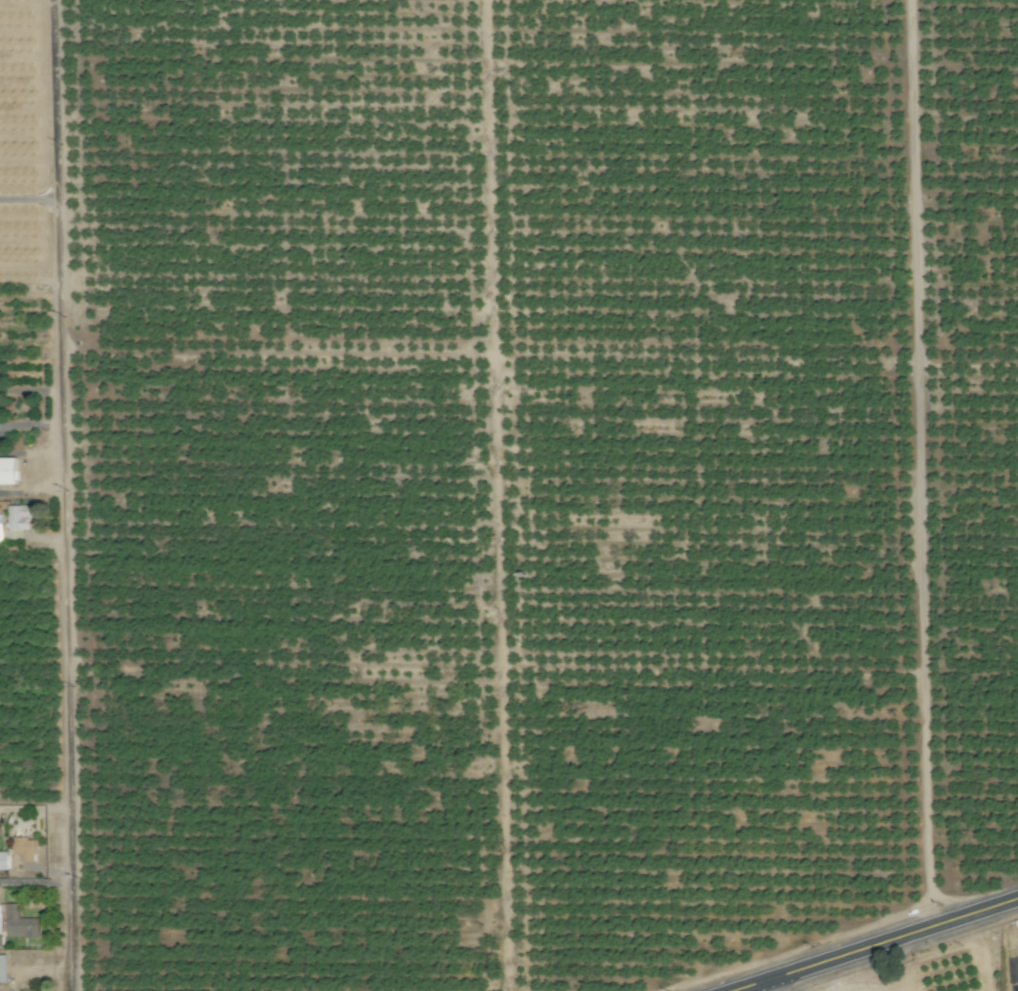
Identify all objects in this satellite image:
road: (29, 199)
road: (916, 464)
building: (8, 470)
road: (67, 495)
building: (21, 515)
building: (25, 848)
building: (3, 860)
building: (16, 921)
road: (875, 945)
building: (2, 969)
road: (765, 986)

